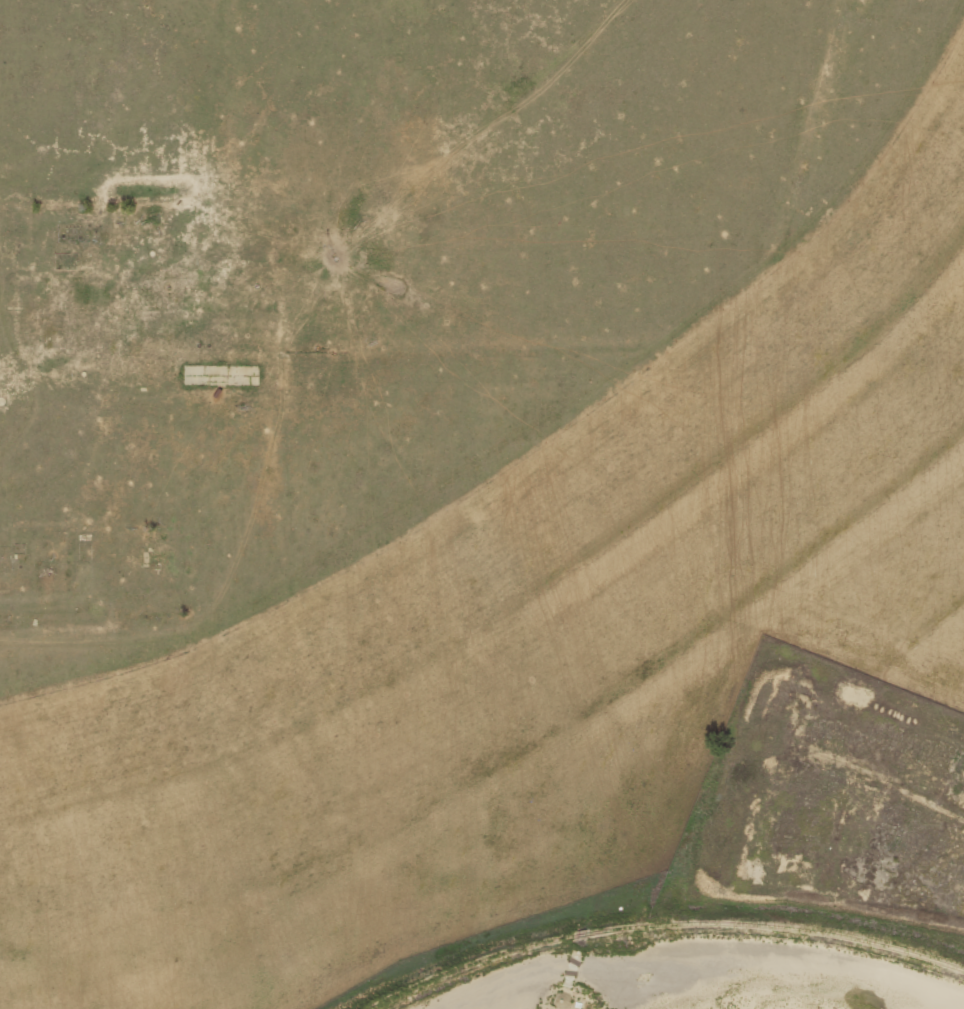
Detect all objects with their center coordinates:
railway: (663, 925)

